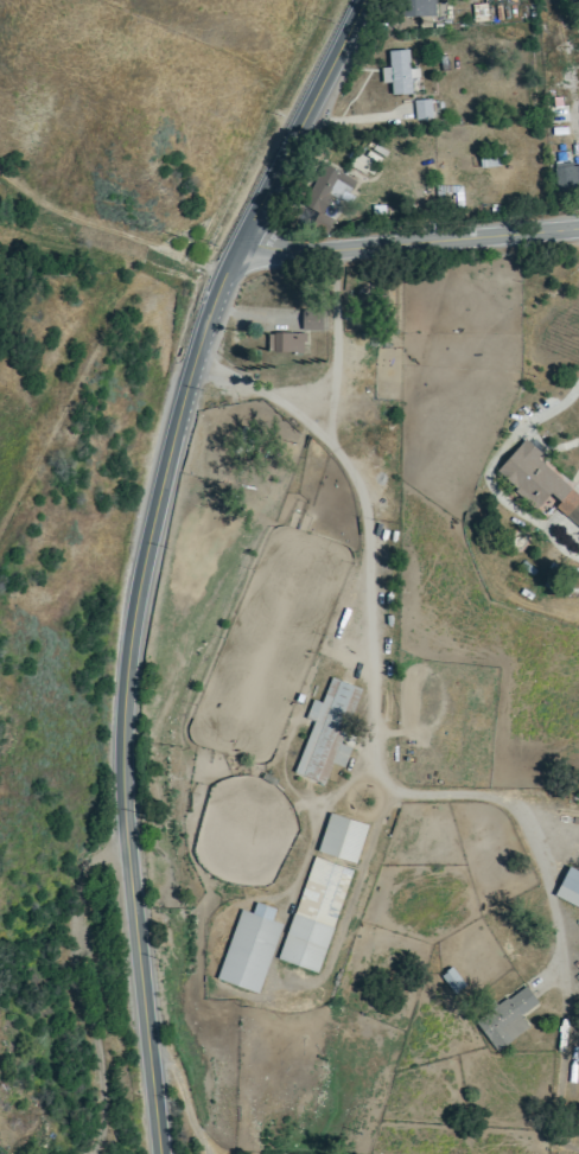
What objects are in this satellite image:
building: (572, 1)
building: (420, 7)
building: (400, 71)
building: (422, 108)
building: (492, 158)
building: (567, 177)
building: (338, 183)
road: (108, 228)
road: (409, 240)
building: (373, 302)
building: (313, 319)
building: (289, 342)
road: (337, 346)
road: (488, 472)
building: (540, 480)
road: (144, 555)
road: (368, 631)
building: (327, 731)
building: (343, 836)
road: (119, 854)
building: (570, 887)
building: (314, 913)
building: (250, 946)
building: (508, 1016)
road: (93, 1035)
road: (183, 1095)

